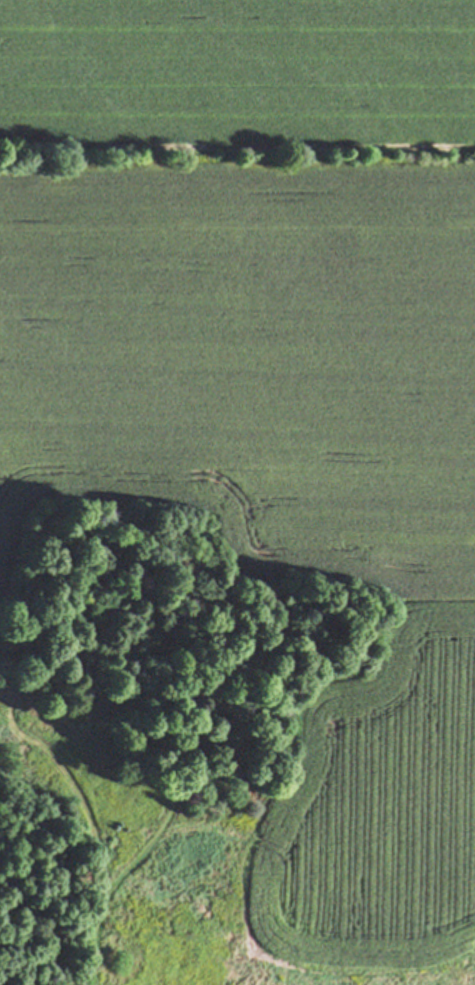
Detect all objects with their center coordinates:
crop: (268, 383)

